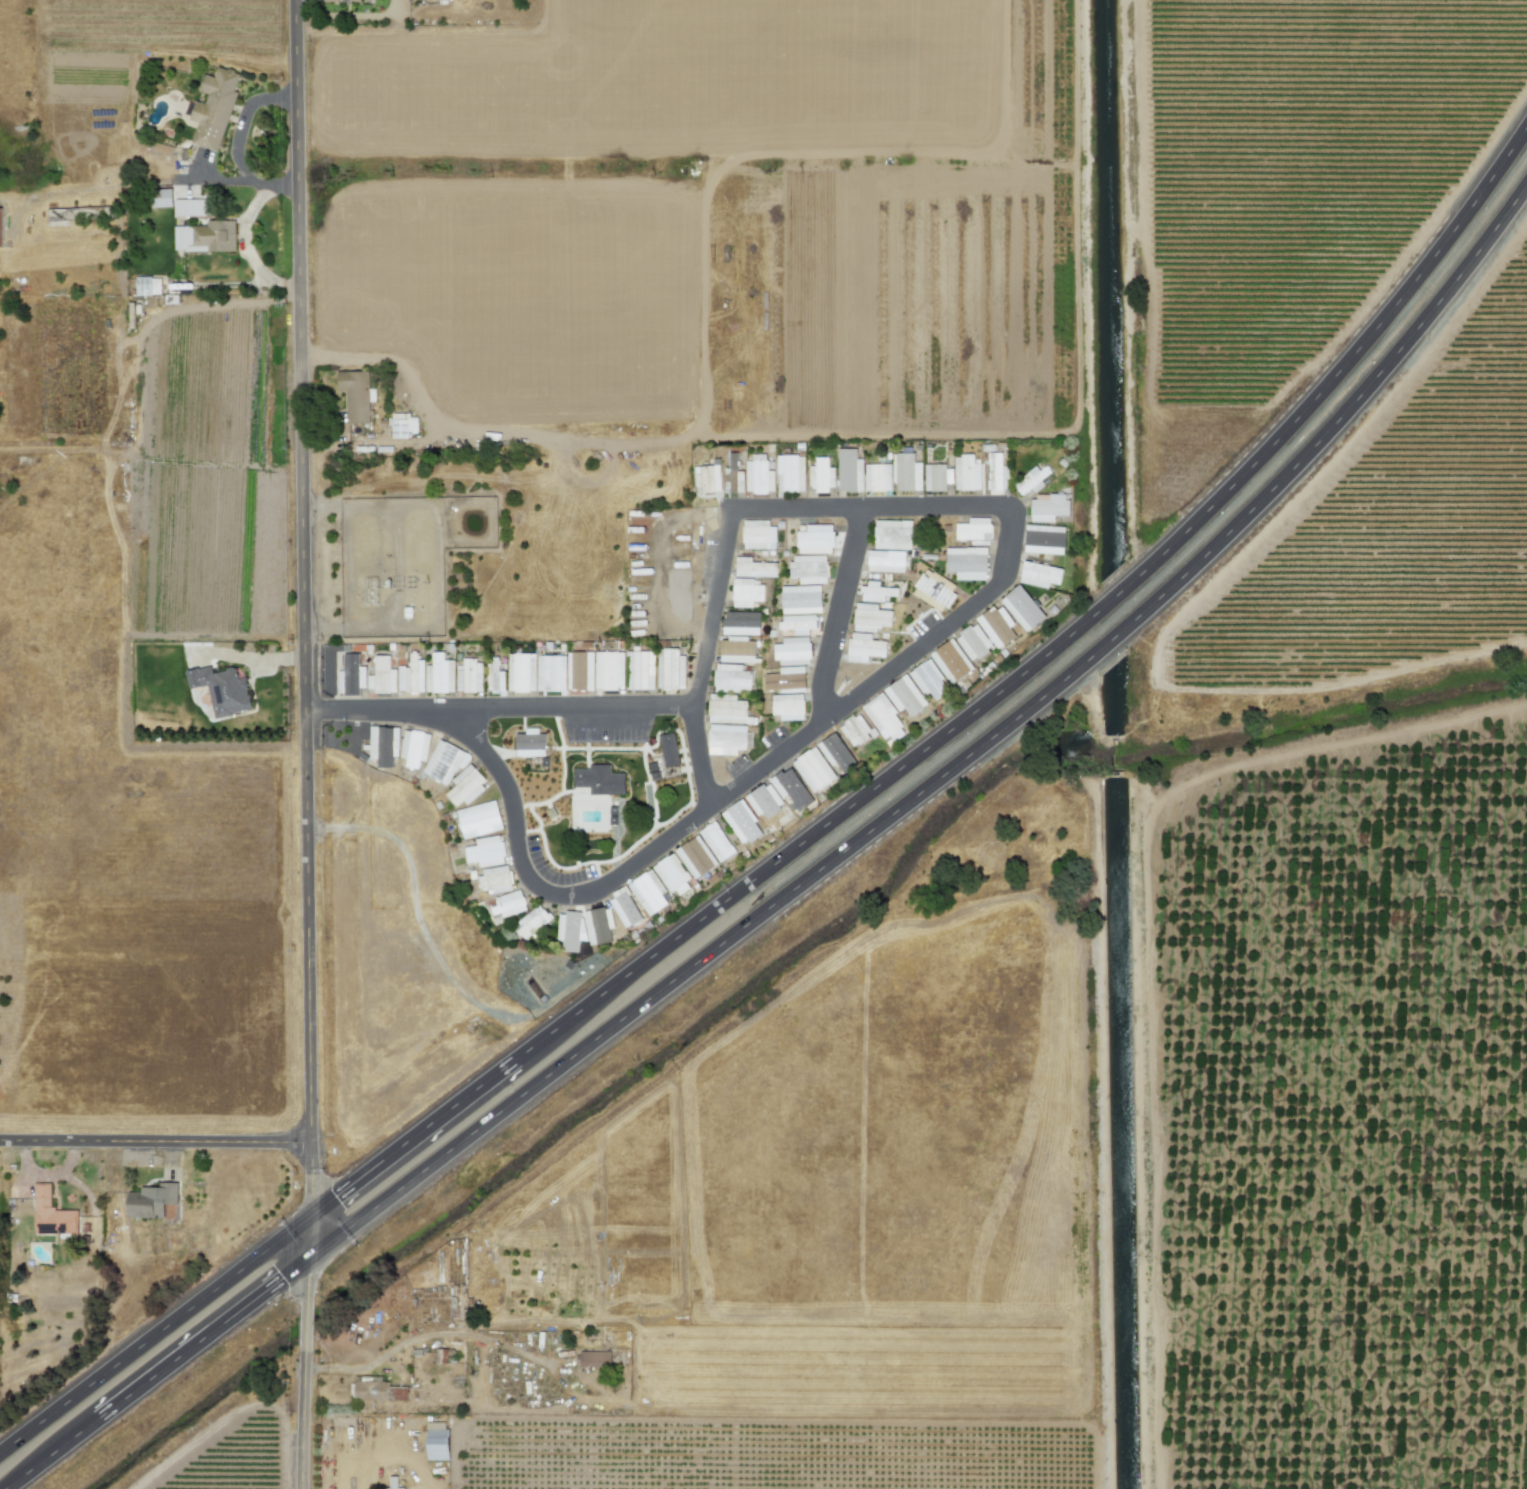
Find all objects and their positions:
building: (347, 1)
building: (213, 108)
road: (242, 119)
road: (249, 180)
building: (161, 198)
building: (190, 207)
building: (61, 216)
building: (205, 237)
road: (245, 249)
building: (147, 286)
road: (389, 358)
building: (354, 395)
building: (402, 425)
building: (849, 471)
building: (996, 472)
building: (789, 473)
building: (906, 473)
building: (967, 473)
building: (732, 475)
building: (758, 475)
building: (821, 475)
building: (877, 477)
building: (937, 477)
building: (706, 479)
building: (1031, 480)
building: (1047, 507)
building: (973, 529)
building: (892, 534)
building: (757, 535)
building: (815, 539)
building: (1044, 539)
building: (885, 561)
building: (966, 563)
building: (754, 568)
building: (808, 569)
building: (1039, 574)
building: (933, 591)
building: (746, 592)
building: (875, 592)
building: (800, 599)
building: (1022, 608)
road: (840, 615)
building: (870, 617)
building: (740, 623)
building: (798, 624)
building: (996, 626)
building: (972, 642)
road: (306, 643)
building: (863, 647)
building: (792, 651)
building: (950, 661)
building: (669, 668)
road: (895, 669)
building: (579, 670)
building: (608, 670)
building: (642, 670)
building: (521, 672)
building: (415, 673)
building: (550, 673)
building: (439, 674)
building: (350, 675)
building: (381, 676)
building: (469, 676)
building: (494, 677)
building: (731, 678)
building: (402, 679)
building: (928, 680)
building: (221, 690)
building: (904, 696)
building: (787, 707)
road: (573, 708)
building: (883, 718)
building: (855, 730)
building: (726, 739)
building: (529, 744)
building: (383, 745)
building: (413, 747)
building: (668, 750)
building: (835, 752)
building: (443, 763)
building: (813, 770)
building: (598, 780)
building: (465, 785)
building: (790, 788)
building: (764, 801)
building: (478, 819)
building: (741, 822)
building: (716, 841)
road: (808, 843)
building: (485, 851)
building: (695, 857)
building: (671, 875)
building: (494, 879)
road: (807, 881)
building: (648, 892)
building: (508, 904)
building: (624, 907)
road: (415, 912)
building: (532, 921)
building: (596, 926)
building: (569, 930)
road: (156, 1142)
building: (50, 1214)
road: (308, 1311)
building: (594, 1358)
building: (368, 1389)
road: (305, 1412)
building: (436, 1441)
building: (392, 1483)

